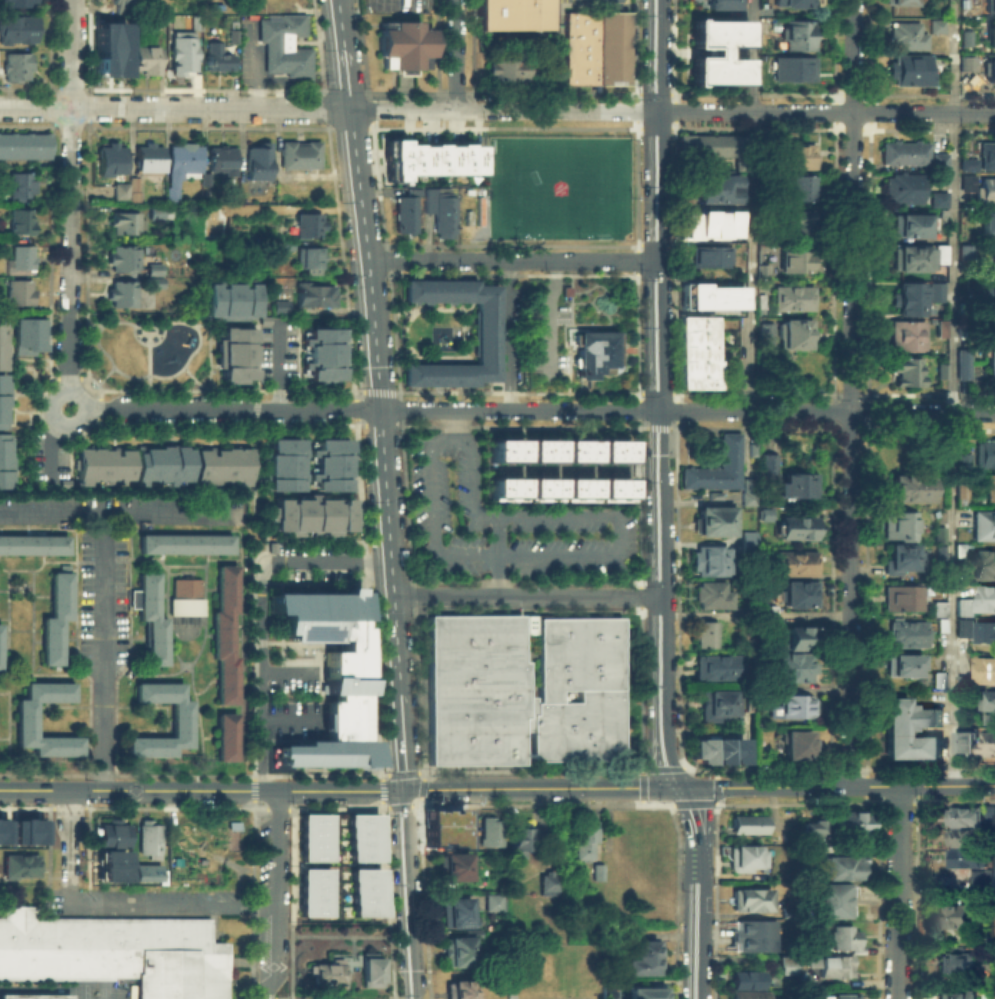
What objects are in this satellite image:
building: (898, 2)
building: (18, 3)
building: (719, 3)
building: (799, 3)
building: (121, 4)
building: (990, 4)
parking lot: (398, 5)
building: (512, 13)
building: (934, 25)
building: (17, 30)
building: (799, 34)
building: (906, 35)
building: (232, 36)
building: (991, 36)
building: (964, 37)
building: (403, 44)
building: (282, 46)
building: (595, 47)
building: (109, 49)
building: (717, 51)
building: (182, 53)
road: (456, 55)
road: (754, 55)
road: (954, 56)
building: (215, 57)
building: (145, 59)
building: (966, 62)
building: (16, 67)
building: (509, 68)
building: (793, 68)
building: (910, 68)
building: (989, 71)
road: (327, 108)
road: (825, 111)
building: (24, 145)
building: (704, 146)
building: (903, 152)
building: (298, 155)
building: (792, 155)
building: (986, 155)
building: (220, 157)
building: (146, 158)
building: (433, 158)
building: (111, 160)
building: (937, 160)
building: (257, 161)
building: (966, 164)
building: (180, 165)
building: (203, 177)
building: (965, 181)
building: (132, 182)
building: (20, 184)
park: (559, 185)
building: (717, 185)
building: (801, 187)
building: (118, 188)
park: (550, 188)
building: (902, 188)
building: (985, 190)
building: (132, 195)
building: (769, 195)
road: (70, 196)
building: (937, 198)
building: (281, 209)
building: (425, 210)
building: (152, 212)
building: (940, 215)
building: (20, 220)
building: (798, 222)
building: (124, 223)
building: (708, 223)
building: (988, 223)
building: (308, 225)
building: (912, 225)
building: (285, 244)
building: (967, 252)
building: (710, 256)
building: (21, 257)
building: (121, 257)
building: (916, 257)
building: (309, 259)
road: (511, 261)
road: (752, 261)
building: (795, 261)
building: (993, 263)
building: (153, 269)
building: (761, 274)
building: (153, 281)
building: (18, 291)
building: (122, 293)
building: (315, 293)
building: (709, 296)
building: (229, 297)
building: (913, 297)
building: (792, 298)
building: (991, 298)
building: (280, 304)
road: (95, 322)
building: (939, 328)
building: (485, 333)
building: (796, 333)
building: (27, 334)
road: (509, 335)
building: (765, 335)
building: (905, 335)
building: (2, 337)
road: (148, 341)
park: (149, 349)
parking lot: (279, 350)
building: (235, 352)
building: (323, 353)
building: (597, 353)
building: (698, 353)
building: (988, 355)
road: (277, 362)
road: (148, 364)
building: (962, 364)
building: (940, 370)
building: (907, 371)
road: (106, 373)
road: (194, 377)
road: (853, 393)
road: (380, 394)
road: (257, 395)
road: (657, 395)
building: (3, 398)
road: (371, 409)
road: (826, 411)
road: (452, 422)
road: (69, 425)
building: (751, 446)
building: (504, 449)
building: (729, 449)
road: (952, 449)
building: (540, 450)
building: (577, 450)
building: (612, 450)
building: (983, 452)
road: (51, 453)
parking lot: (37, 458)
parking lot: (62, 460)
building: (960, 460)
building: (5, 461)
building: (103, 462)
building: (162, 462)
building: (284, 462)
building: (332, 463)
building: (222, 464)
building: (768, 464)
building: (797, 483)
building: (990, 486)
building: (504, 488)
building: (541, 488)
building: (576, 488)
building: (612, 488)
building: (907, 488)
building: (747, 490)
building: (763, 513)
road: (119, 515)
building: (312, 515)
building: (716, 520)
parking lot: (503, 522)
building: (983, 525)
building: (899, 526)
building: (797, 528)
building: (940, 533)
building: (747, 539)
building: (33, 543)
building: (184, 543)
parking lot: (113, 544)
building: (273, 545)
building: (959, 549)
building: (940, 553)
road: (600, 554)
road: (493, 555)
building: (900, 558)
parking lot: (314, 560)
building: (709, 561)
building: (795, 564)
building: (983, 564)
road: (104, 594)
building: (795, 594)
building: (186, 596)
road: (526, 596)
building: (713, 596)
building: (902, 597)
building: (986, 598)
building: (962, 606)
building: (938, 608)
building: (764, 610)
road: (261, 613)
building: (54, 616)
building: (149, 616)
building: (939, 625)
building: (963, 626)
building: (984, 631)
building: (223, 634)
building: (704, 634)
building: (906, 635)
building: (799, 637)
road: (259, 642)
building: (902, 665)
building: (789, 666)
building: (716, 667)
building: (985, 669)
road: (291, 672)
building: (328, 674)
building: (936, 679)
building: (961, 682)
building: (520, 691)
building: (989, 700)
building: (717, 705)
building: (797, 706)
building: (24, 718)
building: (179, 718)
road: (292, 720)
road: (104, 732)
building: (895, 732)
building: (224, 735)
building: (964, 739)
building: (987, 740)
building: (795, 743)
building: (716, 747)
road: (851, 786)
road: (541, 788)
traffic signals: (676, 788)
road: (692, 788)
road: (15, 790)
road: (219, 790)
traffic signals: (407, 790)
building: (962, 816)
building: (855, 822)
building: (746, 823)
building: (3, 829)
building: (26, 830)
building: (809, 831)
road: (691, 832)
building: (109, 833)
building: (443, 833)
building: (487, 833)
road: (709, 834)
building: (313, 836)
building: (362, 836)
building: (961, 836)
road: (71, 837)
building: (519, 837)
building: (581, 837)
building: (147, 838)
building: (965, 857)
building: (745, 858)
building: (111, 864)
building: (18, 865)
building: (453, 866)
building: (843, 867)
building: (142, 871)
building: (596, 872)
building: (547, 881)
building: (981, 881)
building: (313, 891)
building: (365, 891)
road: (898, 892)
road: (410, 894)
road: (279, 896)
building: (748, 900)
building: (830, 901)
building: (491, 902)
road: (168, 905)
building: (454, 912)
building: (789, 912)
building: (951, 917)
building: (753, 936)
building: (842, 937)
road: (695, 939)
building: (457, 948)
building: (115, 951)
building: (642, 958)
building: (953, 963)
building: (784, 964)
building: (831, 965)
building: (369, 970)
building: (324, 972)
building: (744, 978)
building: (771, 979)
building: (608, 987)
building: (462, 990)
building: (992, 990)
building: (644, 992)
building: (747, 994)
building: (34, 995)
building: (954, 995)
building: (840, 996)

